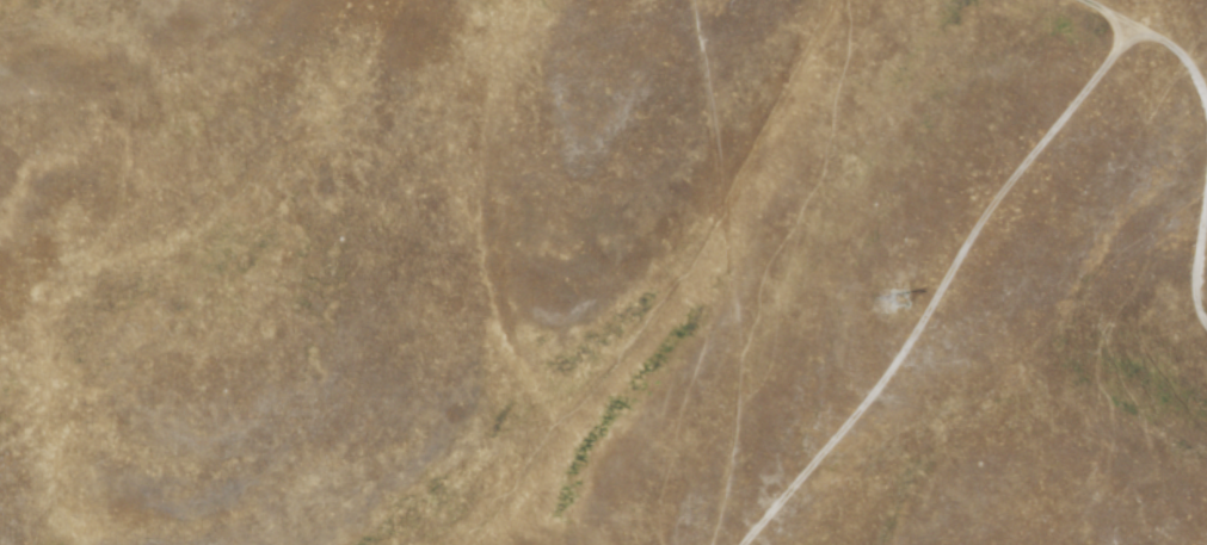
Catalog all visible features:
road: (1165, 124)

